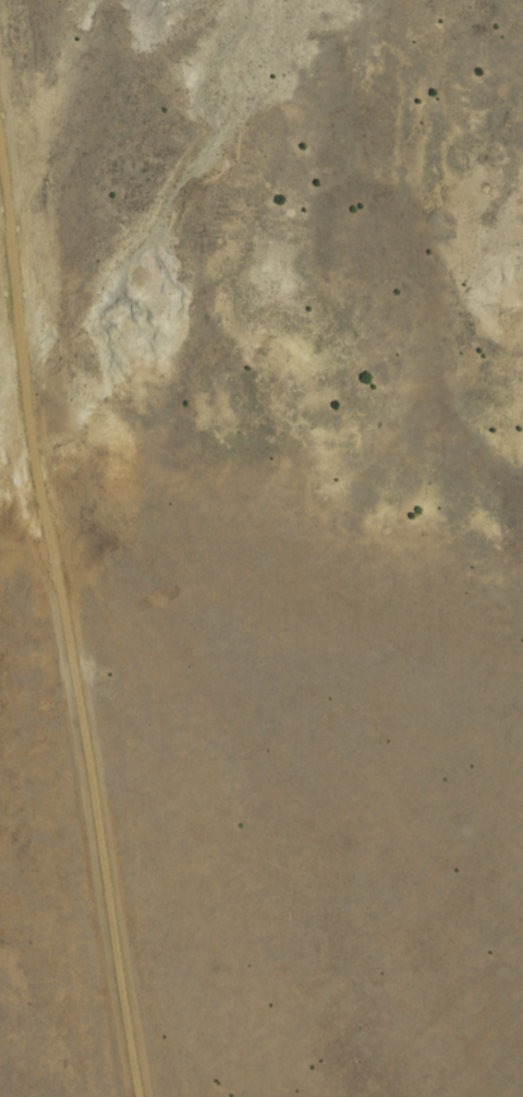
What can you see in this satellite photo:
road: (75, 550)

